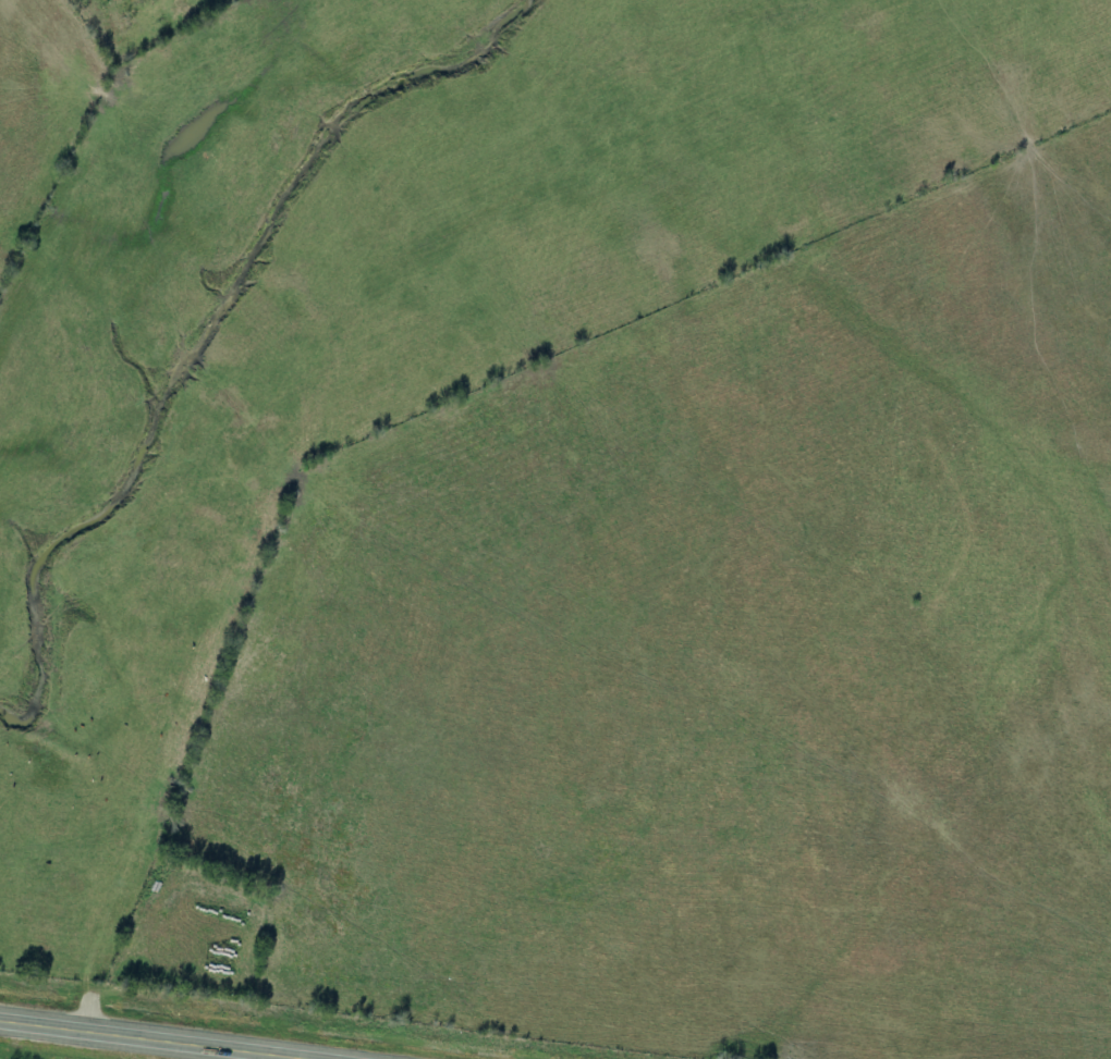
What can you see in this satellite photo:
road: (202, 1033)

